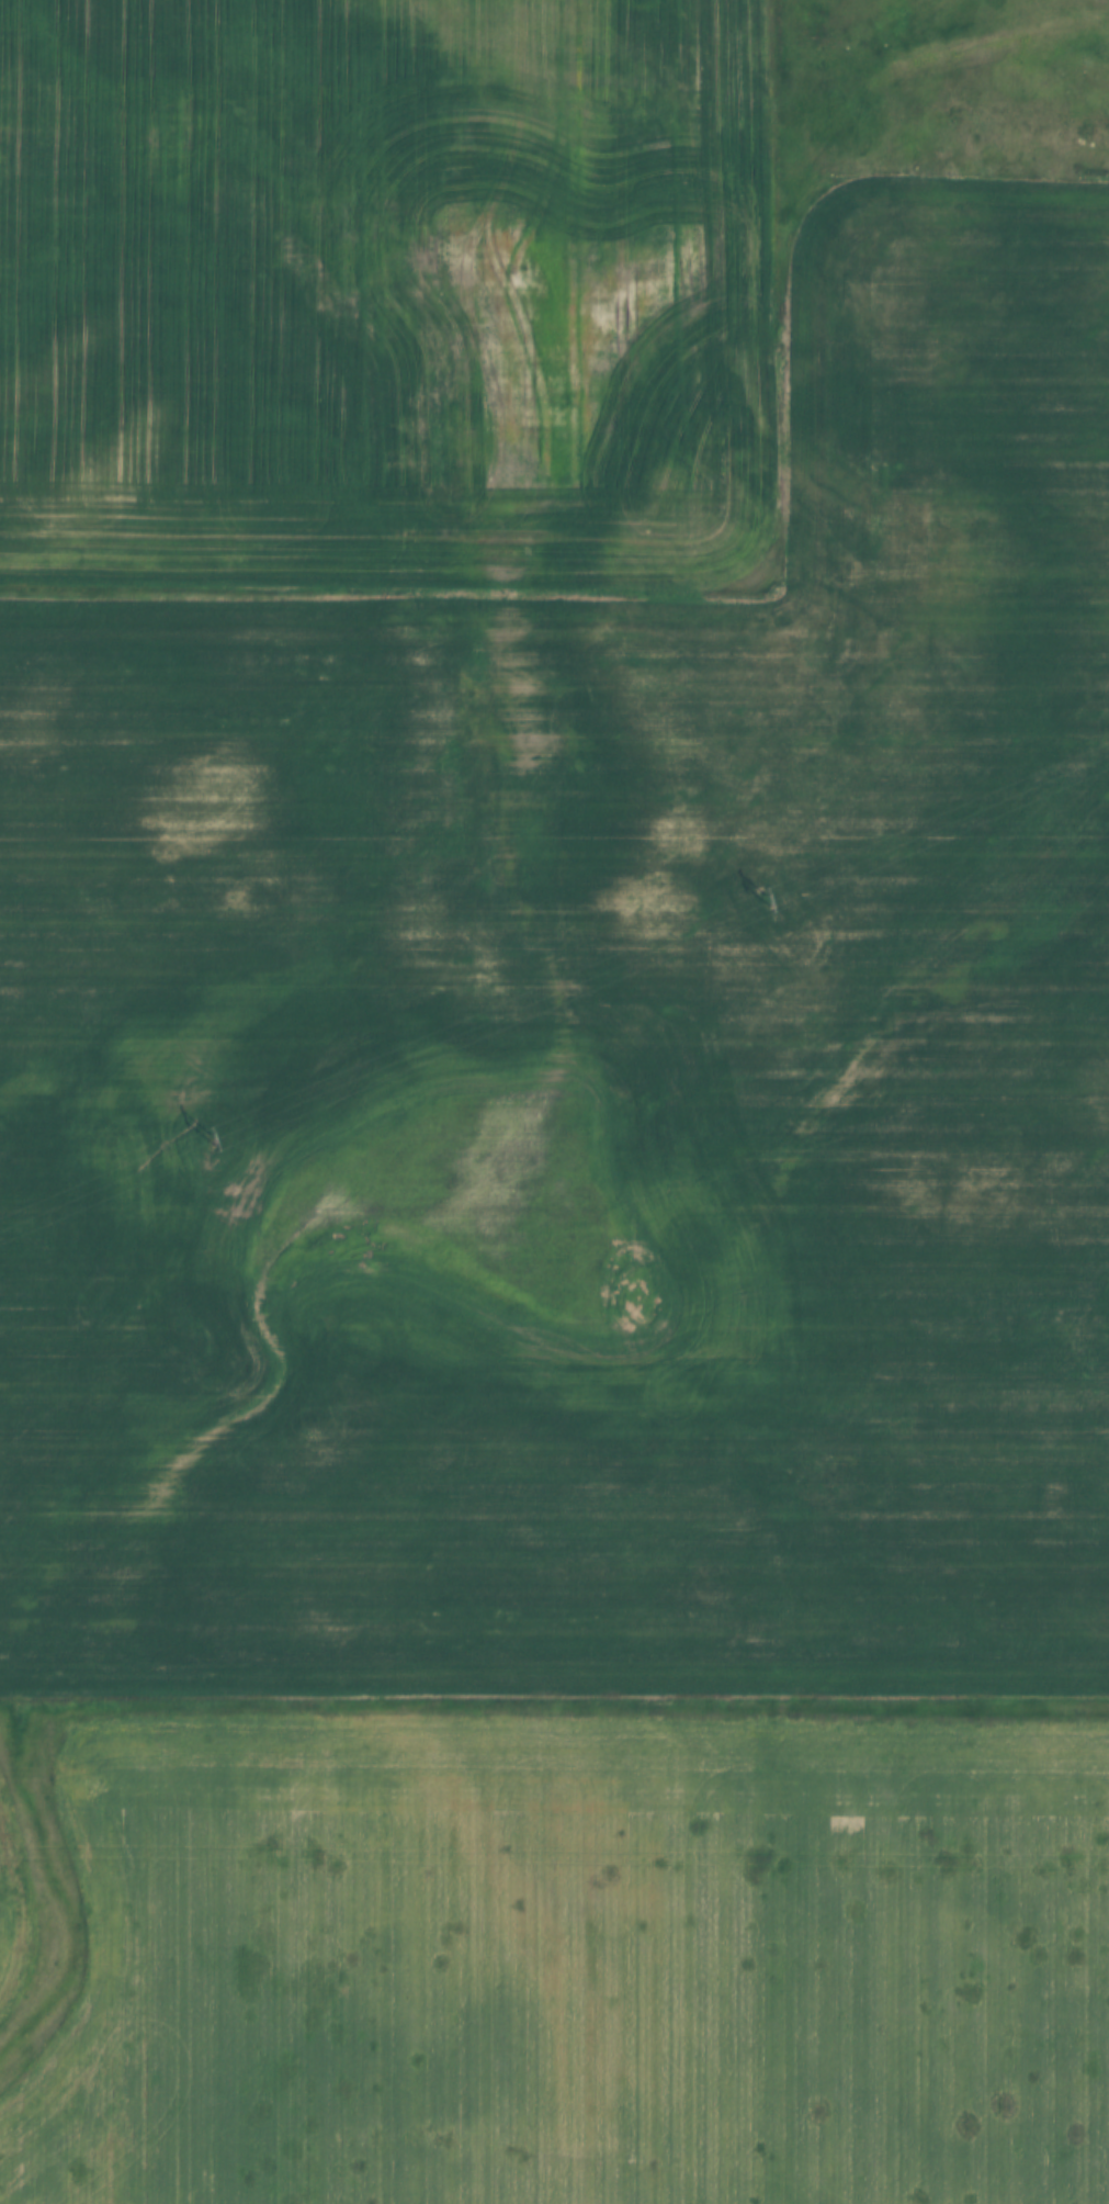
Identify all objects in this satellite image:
power tower: (766, 899)
power tower: (212, 1138)

